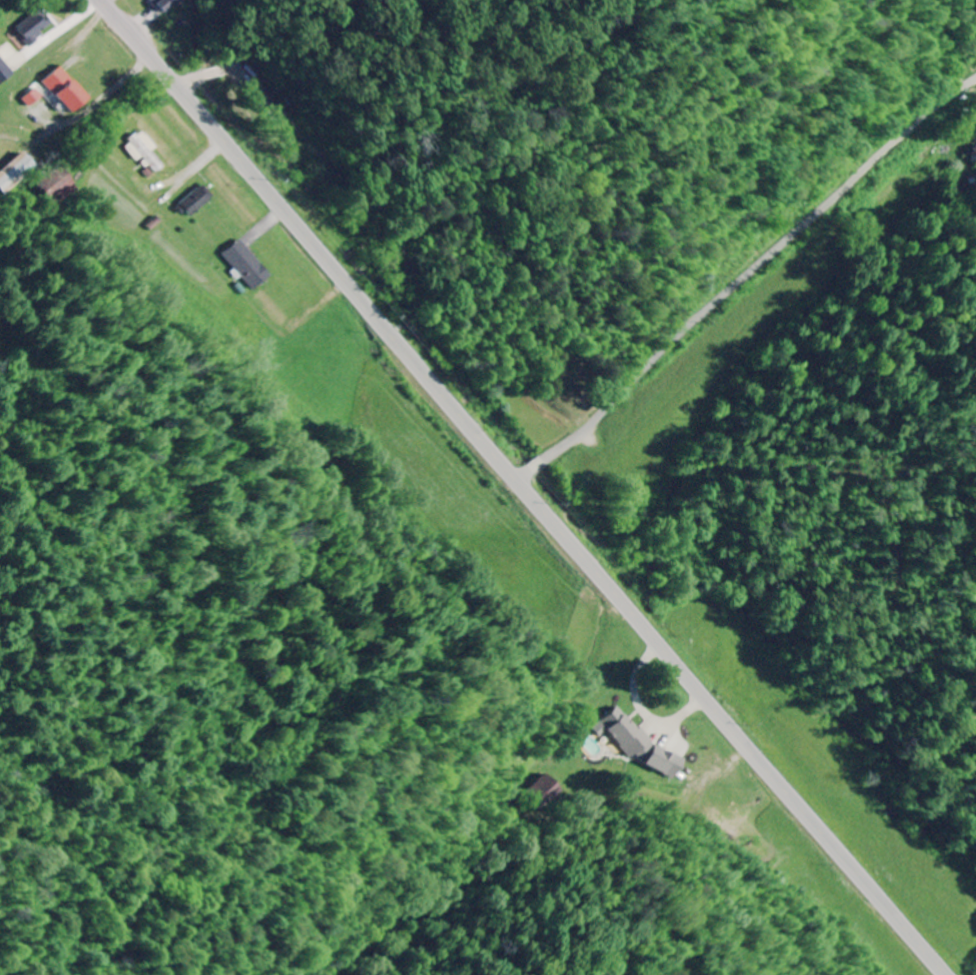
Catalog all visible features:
building: (163, 4)
building: (34, 28)
building: (5, 72)
building: (66, 91)
building: (33, 98)
building: (273, 106)
building: (144, 152)
building: (15, 173)
building: (58, 186)
building: (196, 202)
building: (247, 264)
road: (744, 277)
park: (571, 371)
road: (522, 488)
building: (641, 743)

